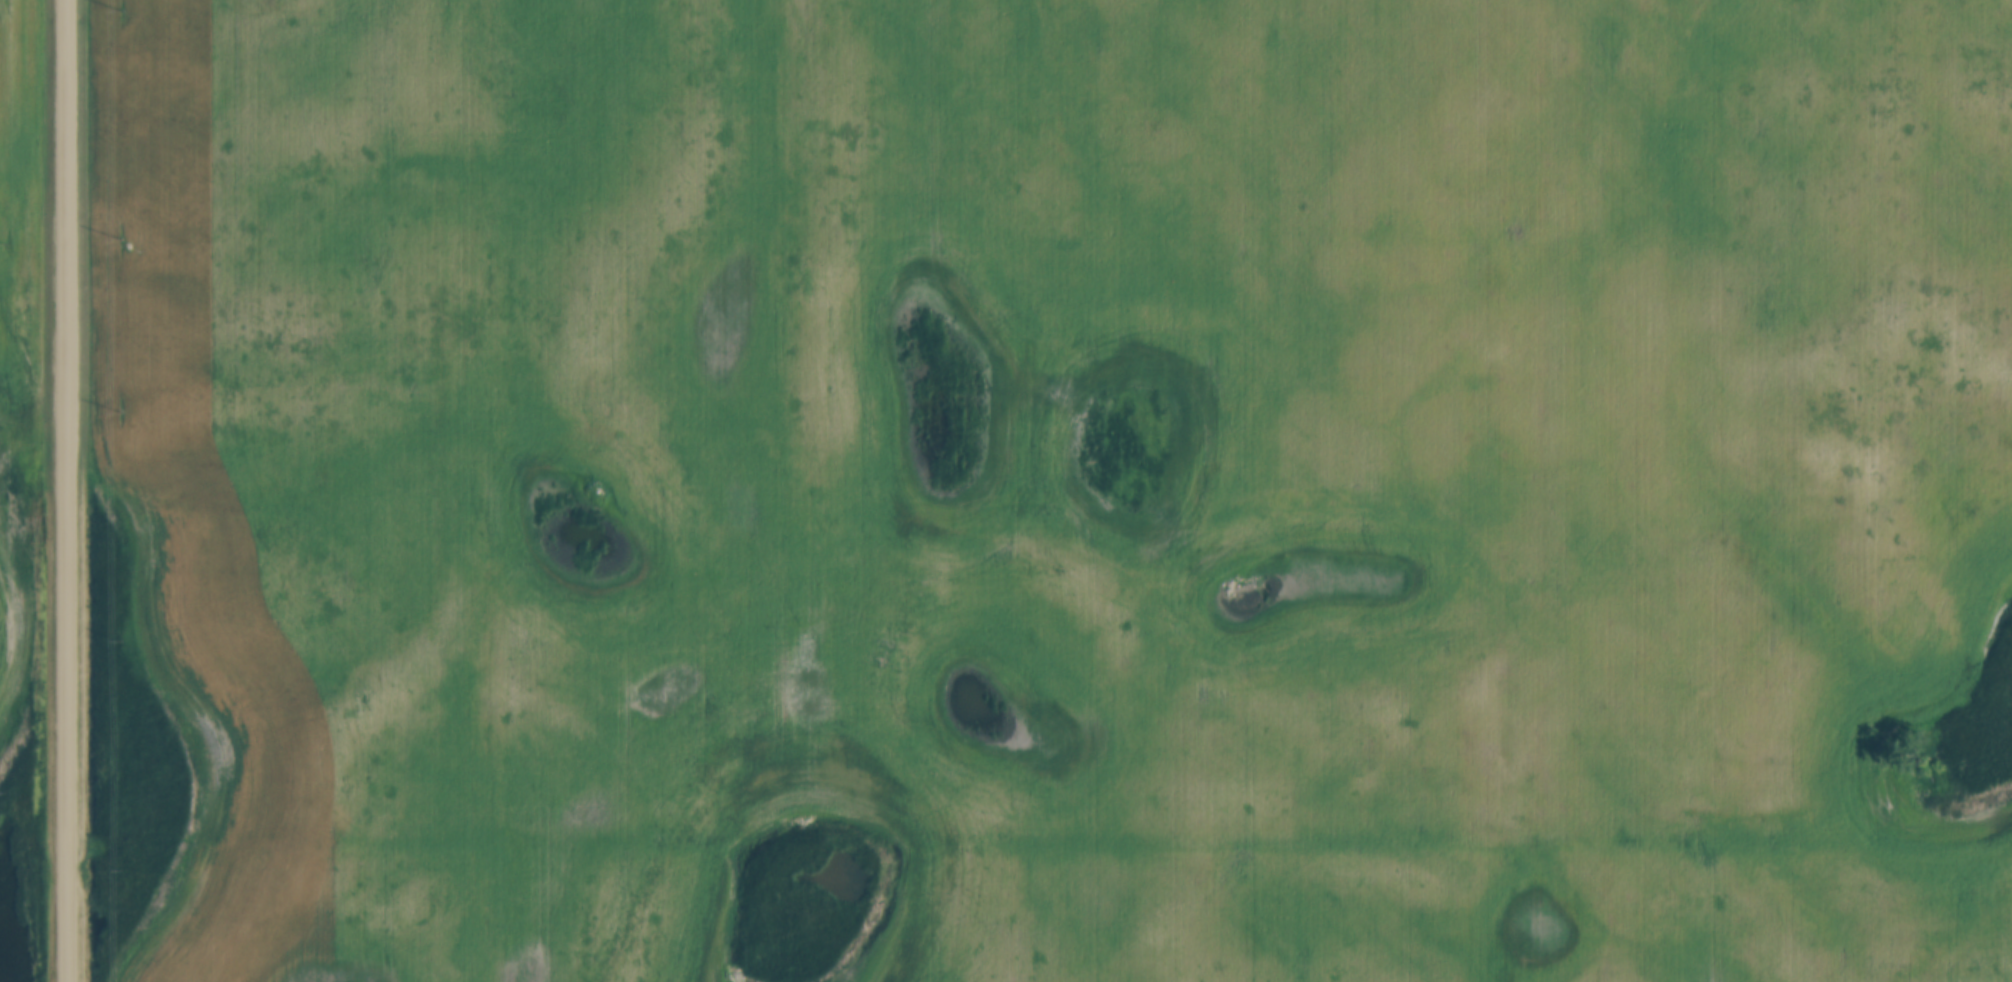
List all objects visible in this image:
road: (66, 490)

